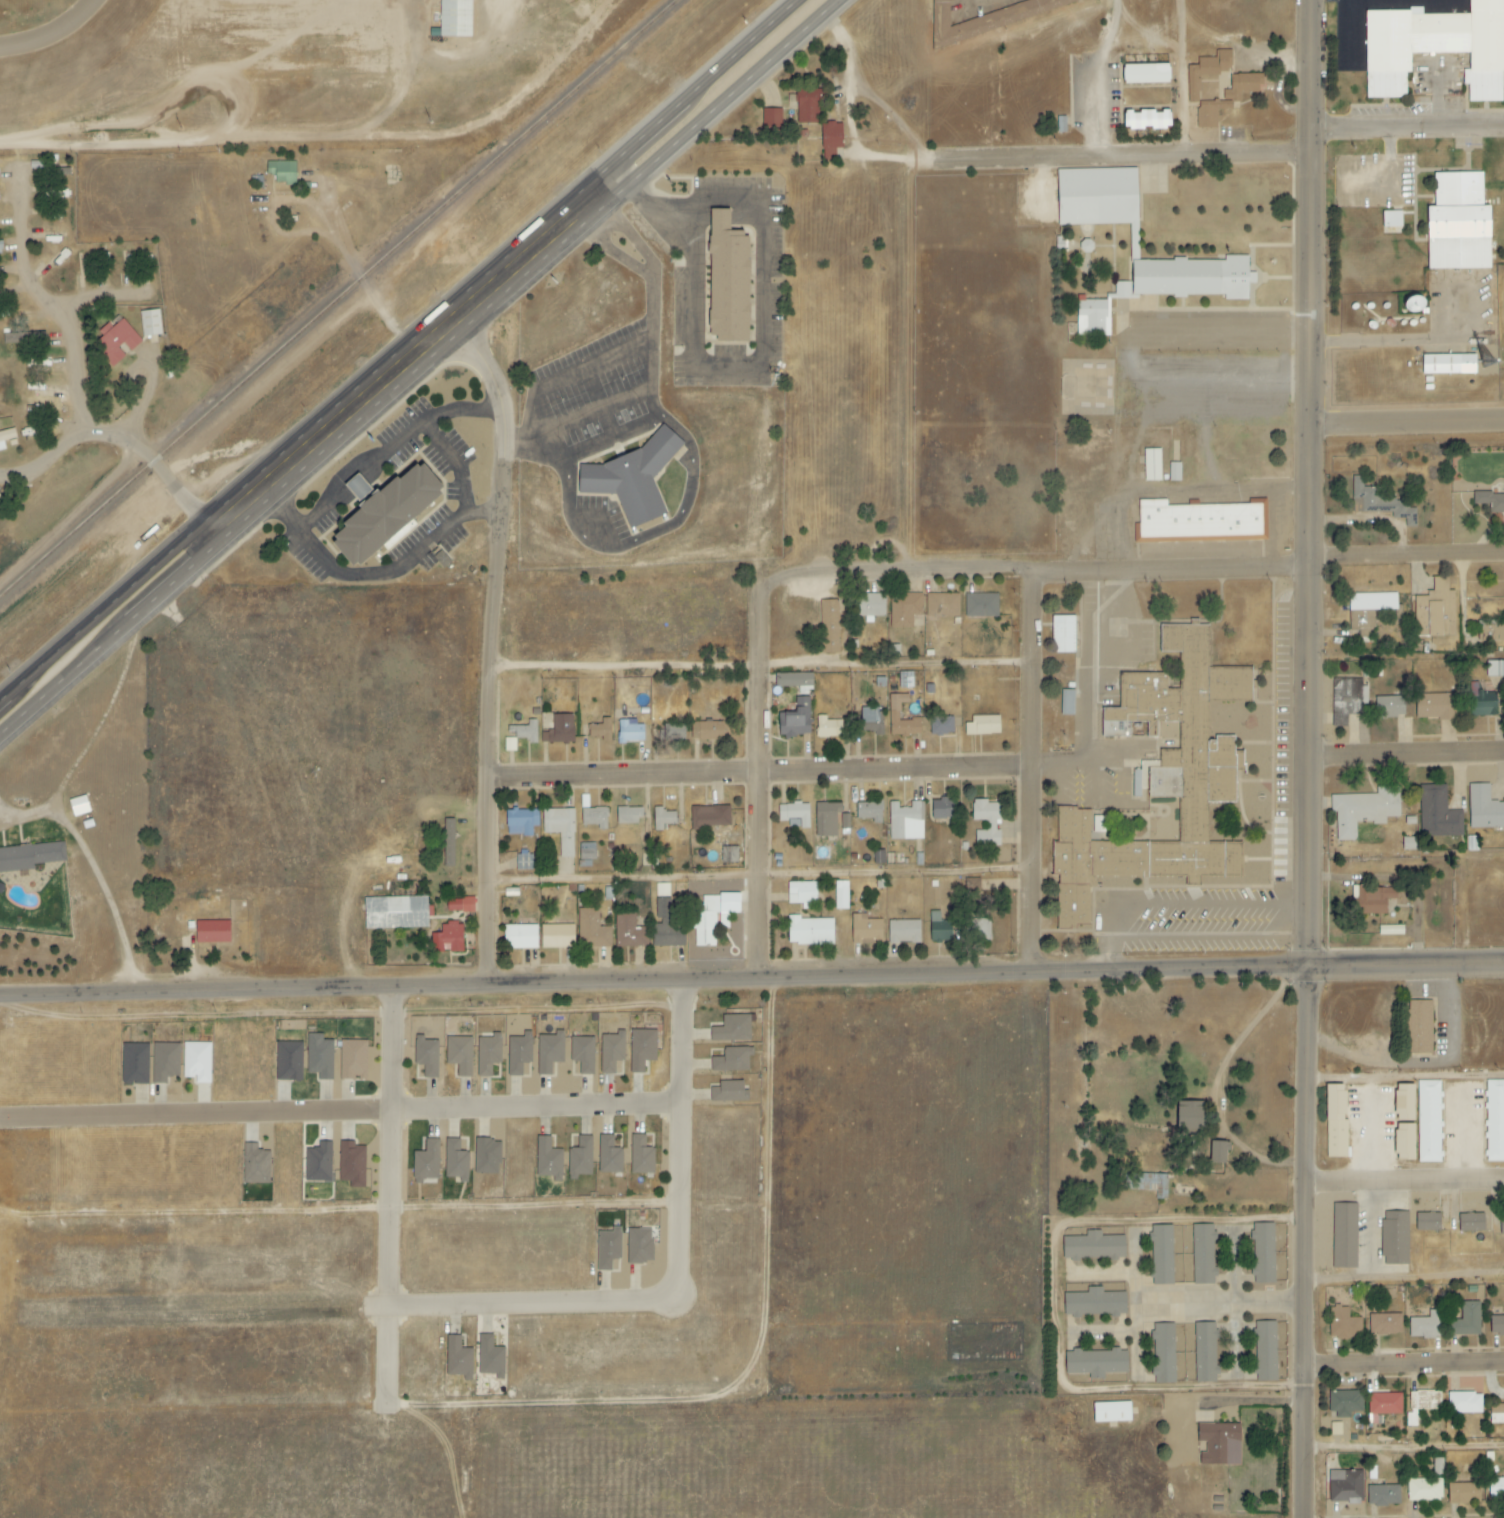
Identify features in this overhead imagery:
building: (454, 18)
building: (988, 20)
road: (57, 37)
building: (1436, 47)
building: (1145, 74)
road: (1181, 77)
building: (1246, 82)
building: (806, 107)
building: (771, 118)
building: (1146, 120)
road: (1406, 126)
building: (830, 139)
road: (249, 141)
road: (1119, 155)
building: (281, 172)
building: (1096, 197)
building: (1391, 219)
building: (1458, 224)
road: (282, 226)
building: (726, 280)
building: (1168, 287)
road: (39, 288)
road: (371, 293)
railway: (337, 297)
road: (462, 301)
road: (502, 302)
building: (1412, 305)
parking lot: (1159, 322)
building: (149, 323)
road: (1222, 329)
road: (1386, 340)
building: (114, 342)
road: (80, 365)
building: (1447, 365)
road: (742, 368)
road: (154, 393)
parking lot: (1187, 398)
road: (1406, 422)
building: (7, 435)
road: (129, 437)
road: (393, 445)
building: (0, 448)
road: (457, 462)
building: (632, 478)
road: (1308, 483)
building: (1381, 501)
building: (1490, 502)
building: (381, 514)
building: (1201, 520)
road: (73, 523)
road: (1405, 554)
road: (385, 573)
road: (1035, 574)
building: (1372, 601)
building: (942, 605)
building: (981, 605)
building: (871, 606)
building: (905, 608)
building: (828, 626)
building: (1064, 634)
road: (497, 640)
road: (58, 651)
road: (765, 666)
building: (1495, 669)
road: (81, 671)
building: (906, 680)
building: (794, 681)
road: (1093, 698)
building: (1347, 699)
building: (1067, 702)
building: (1481, 702)
building: (1435, 706)
building: (1389, 707)
building: (894, 711)
building: (795, 719)
building: (871, 720)
building: (941, 726)
building: (982, 726)
building: (828, 727)
building: (559, 729)
building: (600, 730)
building: (629, 731)
building: (706, 731)
building: (525, 732)
building: (672, 732)
road: (1405, 753)
road: (1034, 773)
road: (762, 774)
road: (762, 781)
building: (1161, 782)
building: (78, 806)
building: (1484, 808)
building: (943, 809)
building: (1363, 810)
building: (869, 811)
building: (793, 815)
building: (1439, 815)
building: (628, 816)
building: (594, 817)
building: (710, 817)
building: (662, 818)
building: (830, 819)
building: (906, 821)
building: (520, 822)
building: (986, 823)
building: (560, 828)
building: (448, 843)
building: (1409, 844)
building: (586, 851)
building: (730, 855)
road: (1478, 855)
building: (29, 856)
building: (524, 863)
road: (100, 869)
road: (763, 878)
building: (973, 886)
building: (662, 890)
building: (801, 893)
building: (841, 895)
building: (1373, 900)
building: (459, 905)
building: (395, 912)
building: (711, 917)
road: (1109, 922)
building: (939, 929)
building: (977, 929)
building: (592, 930)
building: (629, 930)
building: (865, 930)
building: (1391, 930)
building: (809, 931)
building: (211, 932)
building: (903, 932)
building: (557, 936)
building: (520, 937)
building: (447, 939)
road: (752, 982)
building: (1419, 1026)
building: (732, 1029)
building: (641, 1049)
building: (549, 1052)
building: (611, 1052)
building: (518, 1053)
building: (488, 1054)
building: (583, 1054)
building: (459, 1055)
building: (426, 1056)
building: (320, 1057)
building: (353, 1060)
building: (732, 1060)
building: (288, 1061)
building: (164, 1062)
building: (196, 1062)
building: (134, 1064)
road: (1226, 1079)
road: (1405, 1079)
building: (729, 1091)
building: (1403, 1102)
road: (536, 1109)
road: (196, 1112)
building: (1188, 1115)
building: (1495, 1120)
building: (1335, 1121)
building: (1430, 1121)
building: (1403, 1141)
building: (1218, 1150)
building: (610, 1153)
building: (642, 1154)
building: (487, 1156)
building: (580, 1157)
building: (456, 1158)
building: (548, 1159)
building: (427, 1161)
building: (318, 1162)
building: (352, 1164)
building: (256, 1165)
road: (1404, 1178)
road: (391, 1183)
building: (1148, 1183)
building: (1427, 1221)
building: (1471, 1222)
road: (1175, 1223)
building: (1502, 1224)
building: (1345, 1235)
building: (1395, 1238)
road: (1306, 1242)
building: (640, 1245)
building: (1094, 1245)
building: (608, 1248)
building: (1263, 1253)
building: (1162, 1254)
building: (1203, 1254)
road: (1095, 1274)
road: (677, 1280)
road: (1405, 1280)
building: (1096, 1301)
road: (1221, 1302)
road: (1244, 1303)
road: (1135, 1307)
building: (1467, 1320)
building: (1343, 1324)
building: (1385, 1324)
building: (1426, 1325)
building: (1496, 1325)
road: (1096, 1336)
building: (1280, 1339)
building: (1265, 1351)
building: (1205, 1352)
building: (1164, 1353)
building: (490, 1357)
building: (457, 1358)
building: (1095, 1362)
road: (1406, 1365)
road: (1111, 1388)
building: (1345, 1403)
building: (1464, 1403)
building: (1422, 1404)
building: (1384, 1405)
building: (1111, 1412)
building: (1496, 1413)
building: (1335, 1428)
building: (1219, 1443)
road: (1404, 1448)
building: (1437, 1466)
building: (1345, 1486)
building: (1496, 1488)
building: (1424, 1490)
building: (1464, 1493)
building: (1383, 1495)

